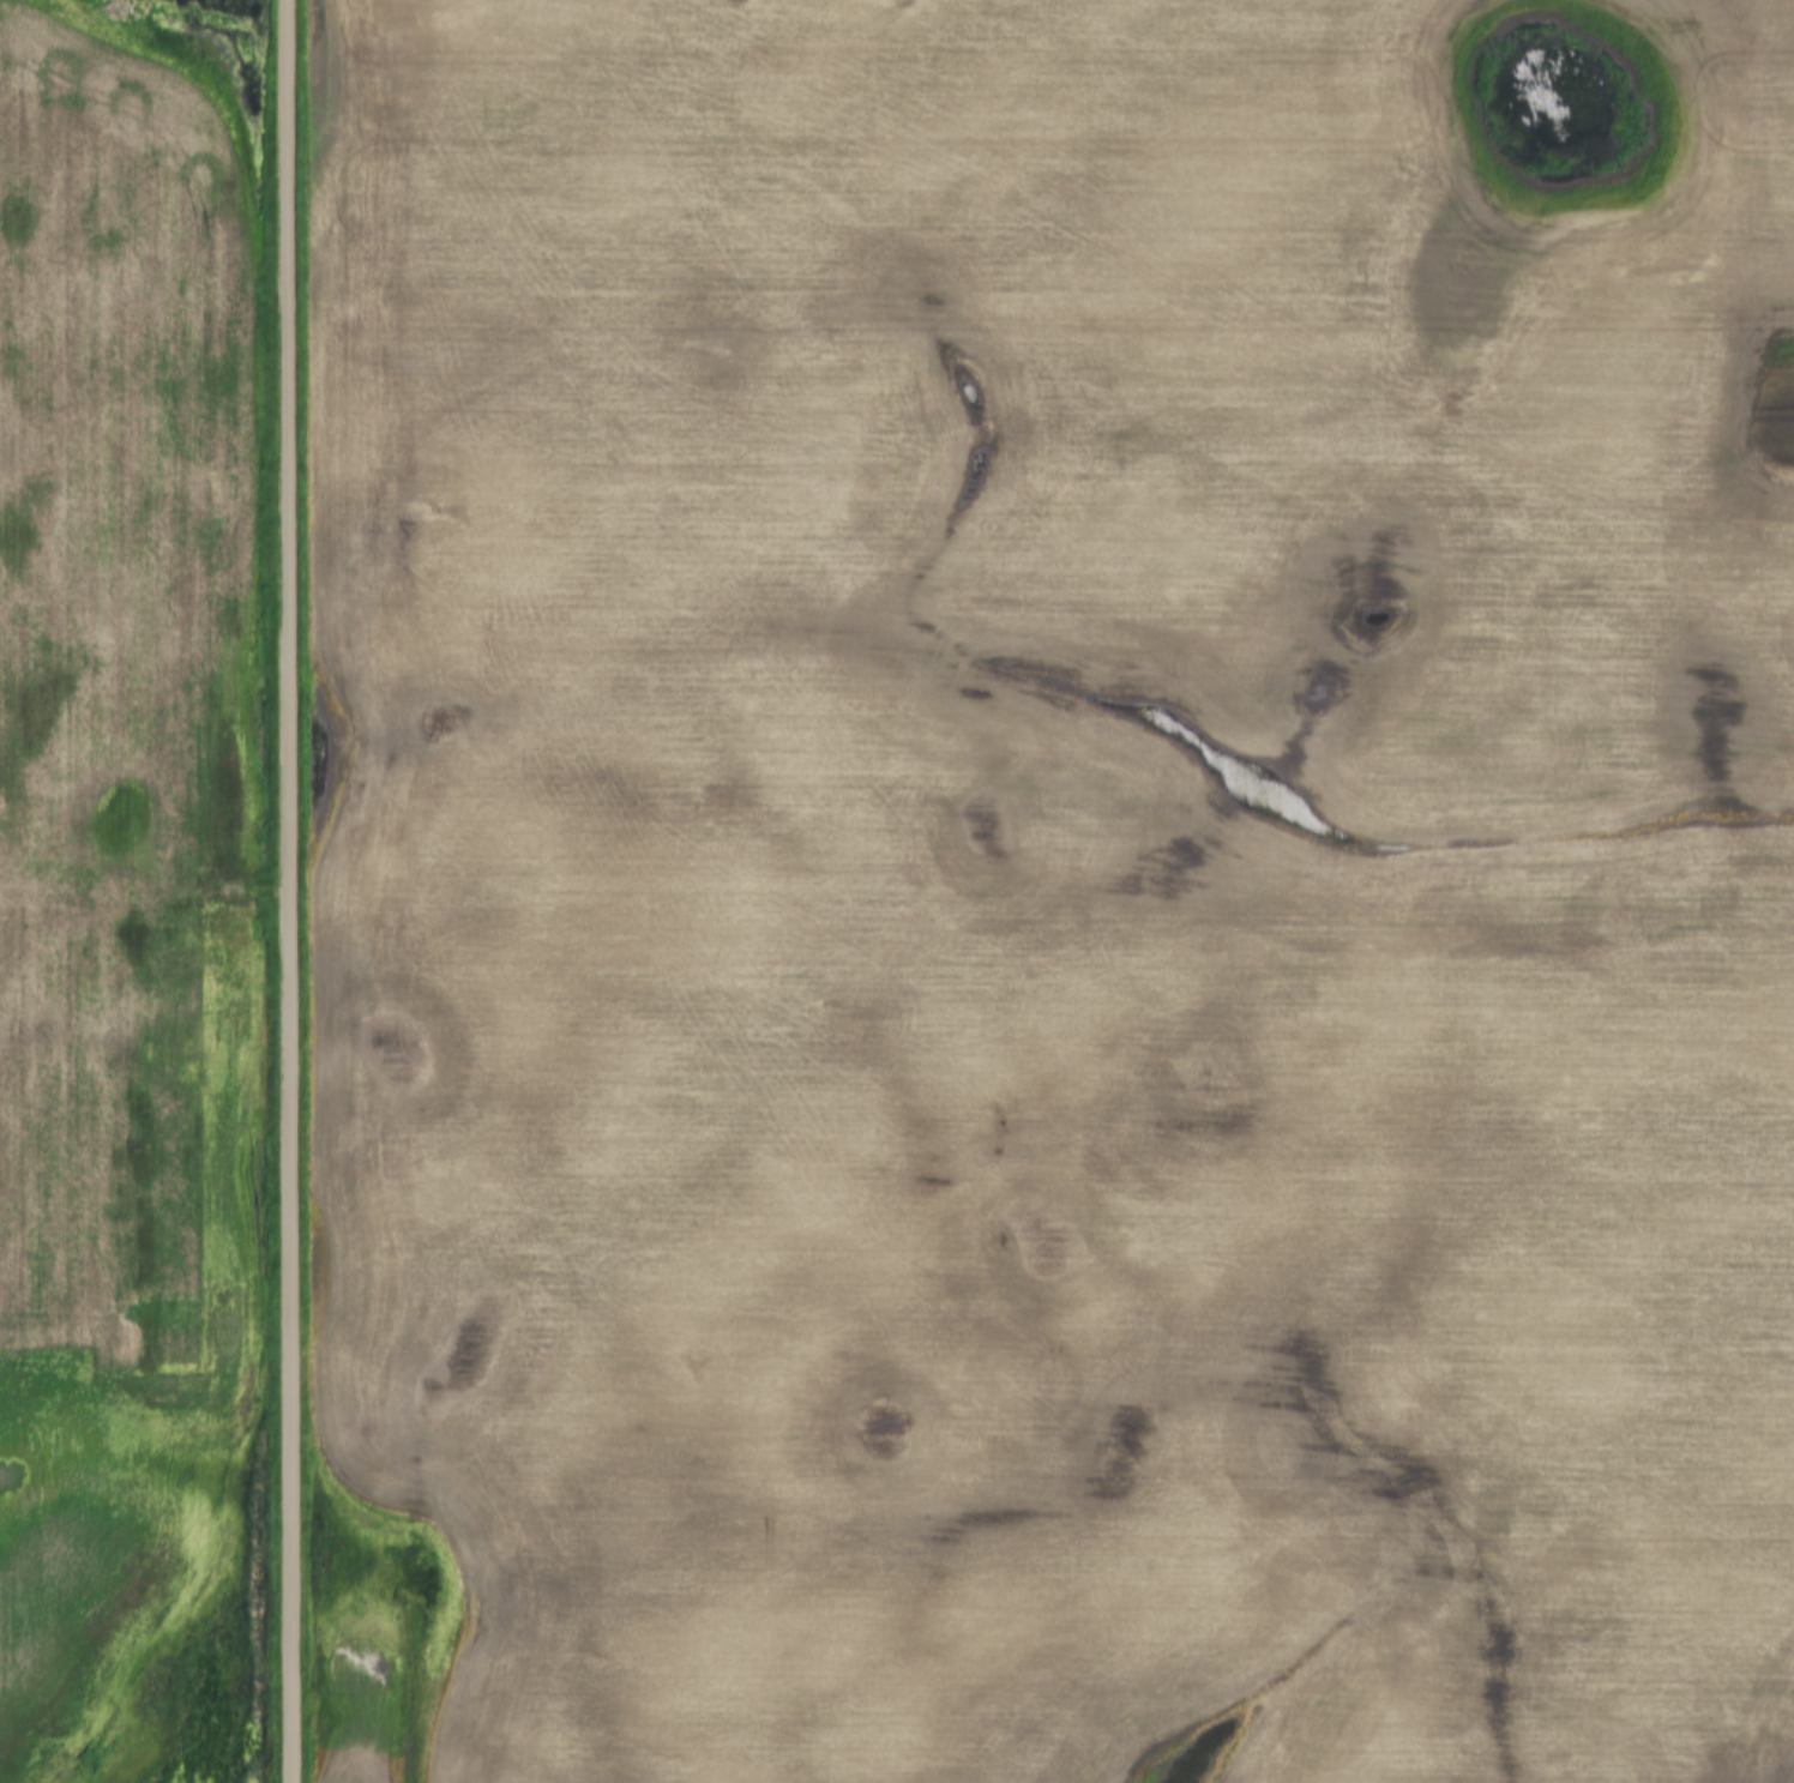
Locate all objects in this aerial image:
road: (287, 891)

